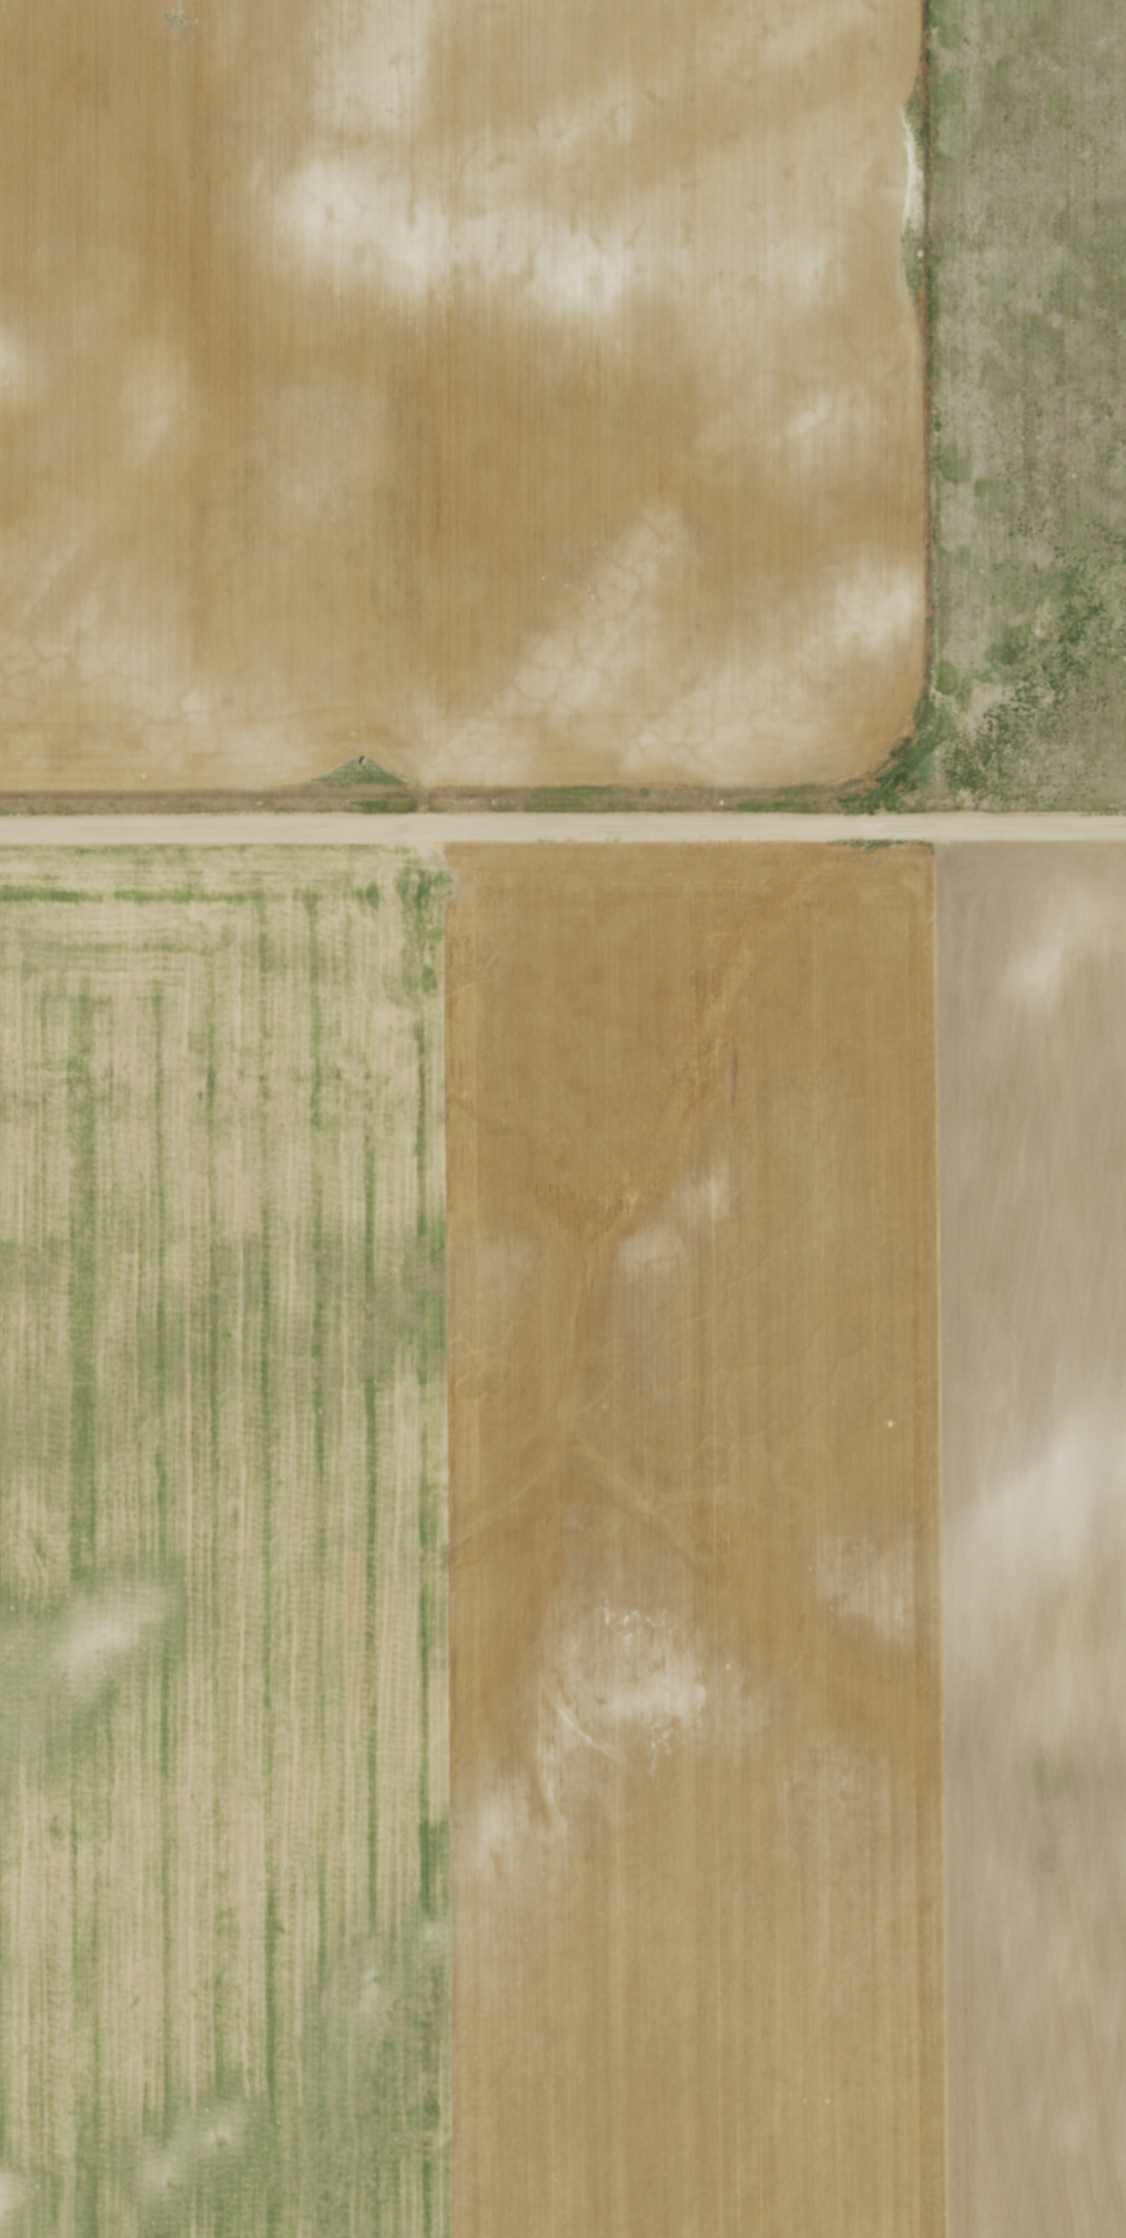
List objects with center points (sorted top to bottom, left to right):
road: (562, 826)

